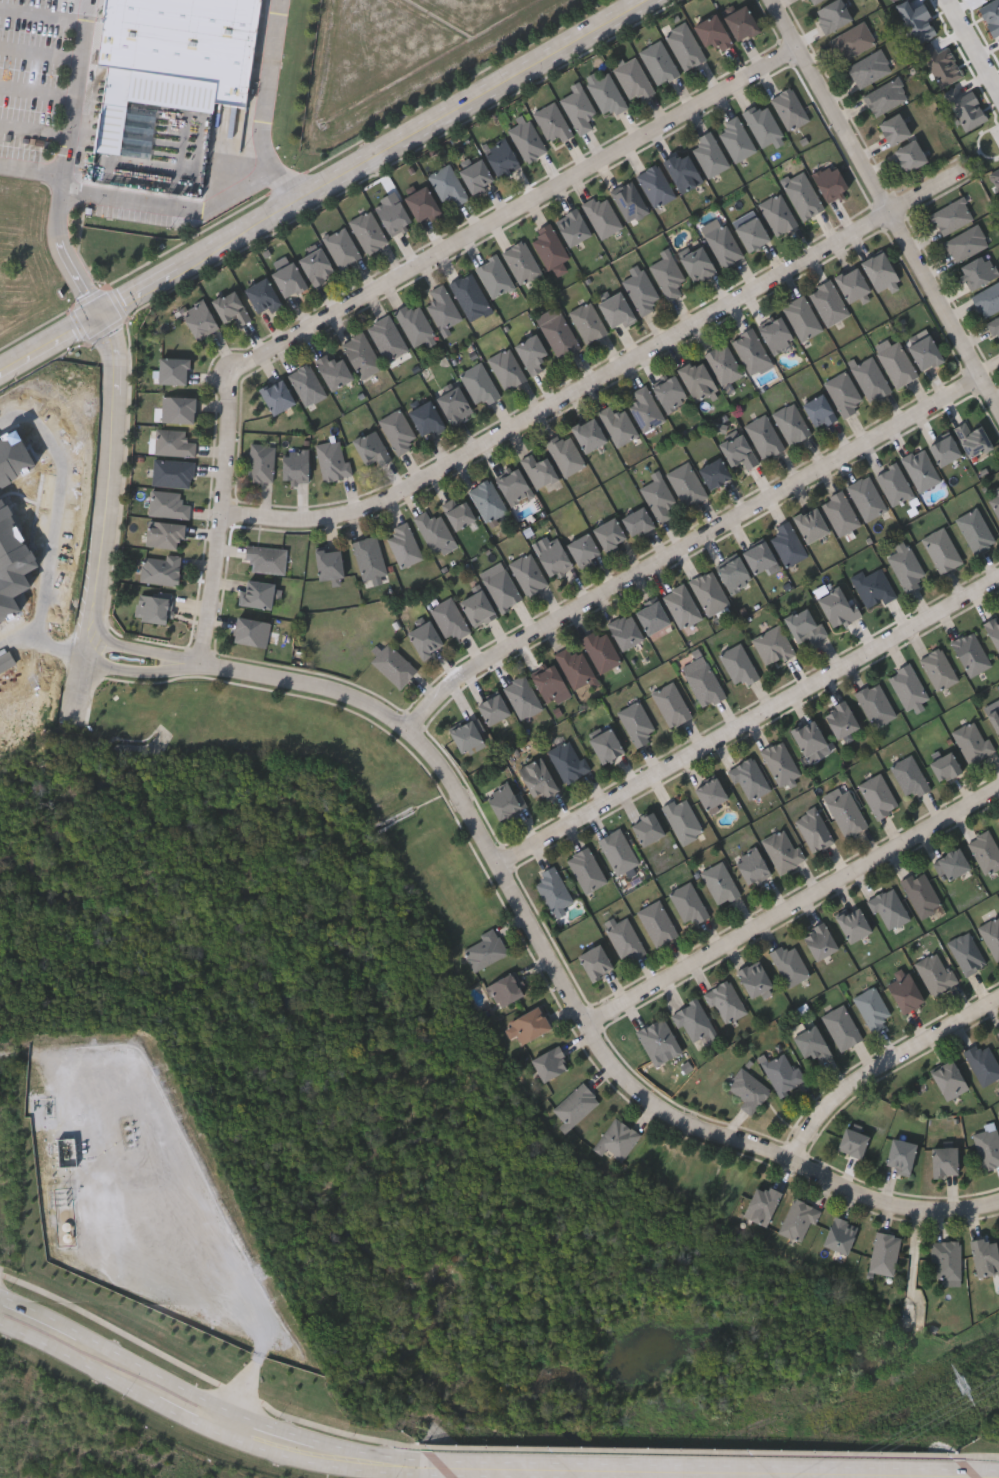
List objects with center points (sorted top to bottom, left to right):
building: (812, 2)
road: (42, 14)
building: (832, 15)
building: (740, 23)
building: (711, 32)
road: (977, 38)
building: (851, 41)
building: (684, 46)
road: (39, 53)
building: (657, 62)
building: (171, 63)
building: (868, 68)
building: (633, 80)
road: (74, 86)
road: (36, 91)
building: (605, 93)
building: (885, 96)
road: (262, 105)
building: (578, 108)
building: (789, 108)
building: (552, 123)
building: (763, 124)
building: (893, 129)
road: (34, 131)
building: (735, 138)
building: (527, 140)
building: (709, 154)
building: (908, 155)
building: (500, 158)
building: (681, 171)
building: (476, 177)
building: (829, 181)
building: (448, 184)
building: (654, 185)
road: (321, 186)
building: (801, 193)
building: (629, 201)
building: (422, 204)
road: (885, 204)
road: (171, 206)
building: (777, 213)
building: (602, 215)
building: (951, 215)
building: (393, 216)
road: (59, 217)
building: (572, 227)
building: (368, 231)
building: (751, 232)
building: (965, 242)
building: (723, 244)
building: (548, 245)
building: (341, 247)
building: (521, 262)
building: (698, 264)
building: (316, 265)
building: (977, 270)
building: (879, 271)
building: (668, 274)
building: (495, 276)
building: (288, 278)
road: (389, 282)
building: (852, 284)
building: (641, 289)
building: (262, 294)
building: (469, 294)
building: (987, 299)
building: (828, 302)
building: (230, 307)
building: (442, 307)
building: (617, 309)
building: (802, 317)
building: (199, 319)
building: (588, 321)
building: (414, 323)
building: (994, 326)
building: (776, 334)
building: (560, 335)
building: (387, 337)
building: (750, 350)
building: (925, 352)
building: (531, 353)
building: (361, 354)
building: (896, 362)
building: (723, 363)
building: (332, 368)
building: (507, 368)
building: (173, 370)
road: (606, 375)
building: (696, 378)
building: (870, 378)
building: (480, 383)
building: (307, 384)
building: (669, 393)
building: (843, 393)
building: (277, 395)
building: (453, 402)
building: (178, 408)
building: (646, 408)
building: (818, 410)
building: (426, 417)
building: (791, 423)
building: (617, 425)
building: (398, 431)
building: (588, 433)
building: (764, 436)
building: (971, 437)
building: (174, 442)
building: (944, 449)
building: (565, 452)
building: (332, 460)
building: (262, 462)
building: (295, 465)
building: (540, 469)
building: (920, 469)
building: (172, 472)
building: (713, 472)
building: (686, 483)
building: (894, 484)
building: (514, 486)
building: (659, 497)
building: (866, 497)
building: (488, 500)
building: (996, 502)
building: (168, 504)
building: (459, 512)
building: (840, 512)
road: (108, 516)
road: (65, 518)
building: (636, 521)
building: (810, 523)
building: (434, 530)
building: (975, 530)
building: (610, 533)
building: (165, 534)
building: (787, 543)
building: (404, 545)
road: (690, 546)
building: (583, 548)
building: (941, 549)
building: (758, 556)
building: (266, 558)
building: (369, 558)
building: (553, 558)
building: (329, 564)
building: (906, 567)
building: (161, 568)
building: (528, 574)
building: (733, 574)
building: (873, 586)
building: (502, 589)
building: (709, 592)
building: (257, 593)
building: (682, 606)
building: (838, 606)
building: (156, 607)
building: (477, 608)
building: (652, 616)
building: (450, 619)
building: (805, 624)
building: (625, 630)
building: (251, 631)
building: (993, 631)
road: (23, 637)
building: (425, 640)
building: (773, 645)
building: (601, 650)
building: (970, 653)
building: (393, 665)
building: (738, 665)
building: (574, 667)
building: (938, 668)
building: (548, 682)
building: (704, 684)
building: (907, 686)
building: (522, 696)
building: (875, 703)
building: (671, 704)
building: (492, 708)
building: (840, 718)
building: (994, 718)
building: (636, 722)
road: (749, 723)
building: (808, 736)
building: (466, 737)
building: (972, 741)
building: (605, 744)
building: (567, 760)
building: (780, 762)
building: (944, 766)
building: (909, 775)
building: (537, 778)
building: (749, 778)
building: (710, 793)
building: (878, 795)
building: (505, 800)
building: (845, 811)
building: (682, 819)
building: (998, 823)
building: (647, 828)
building: (814, 829)
building: (783, 850)
building: (618, 851)
building: (985, 851)
building: (951, 864)
building: (751, 866)
building: (586, 869)
building: (720, 883)
building: (553, 890)
building: (921, 894)
building: (688, 904)
building: (889, 909)
road: (794, 910)
building: (657, 923)
building: (853, 923)
road: (536, 932)
building: (992, 936)
building: (624, 938)
building: (819, 941)
building: (484, 950)
building: (966, 953)
building: (594, 962)
building: (789, 965)
building: (935, 972)
building: (754, 978)
building: (502, 989)
building: (904, 991)
building: (726, 1001)
building: (873, 1008)
building: (694, 1021)
building: (527, 1024)
building: (842, 1027)
building: (997, 1032)
building: (659, 1040)
building: (811, 1043)
building: (983, 1062)
building: (549, 1063)
road: (884, 1066)
building: (783, 1073)
building: (948, 1079)
building: (748, 1089)
park: (435, 1103)
building: (574, 1105)
building: (616, 1140)
building: (852, 1142)
building: (987, 1147)
building: (900, 1155)
building: (944, 1161)
building: (761, 1205)
building: (798, 1220)
building: (71, 1229)
building: (839, 1235)
building: (884, 1253)
building: (984, 1256)
building: (946, 1260)
road: (117, 1351)
road: (112, 1376)
power tower: (963, 1387)
road: (322, 1454)
road: (693, 1470)
road: (981, 1474)

